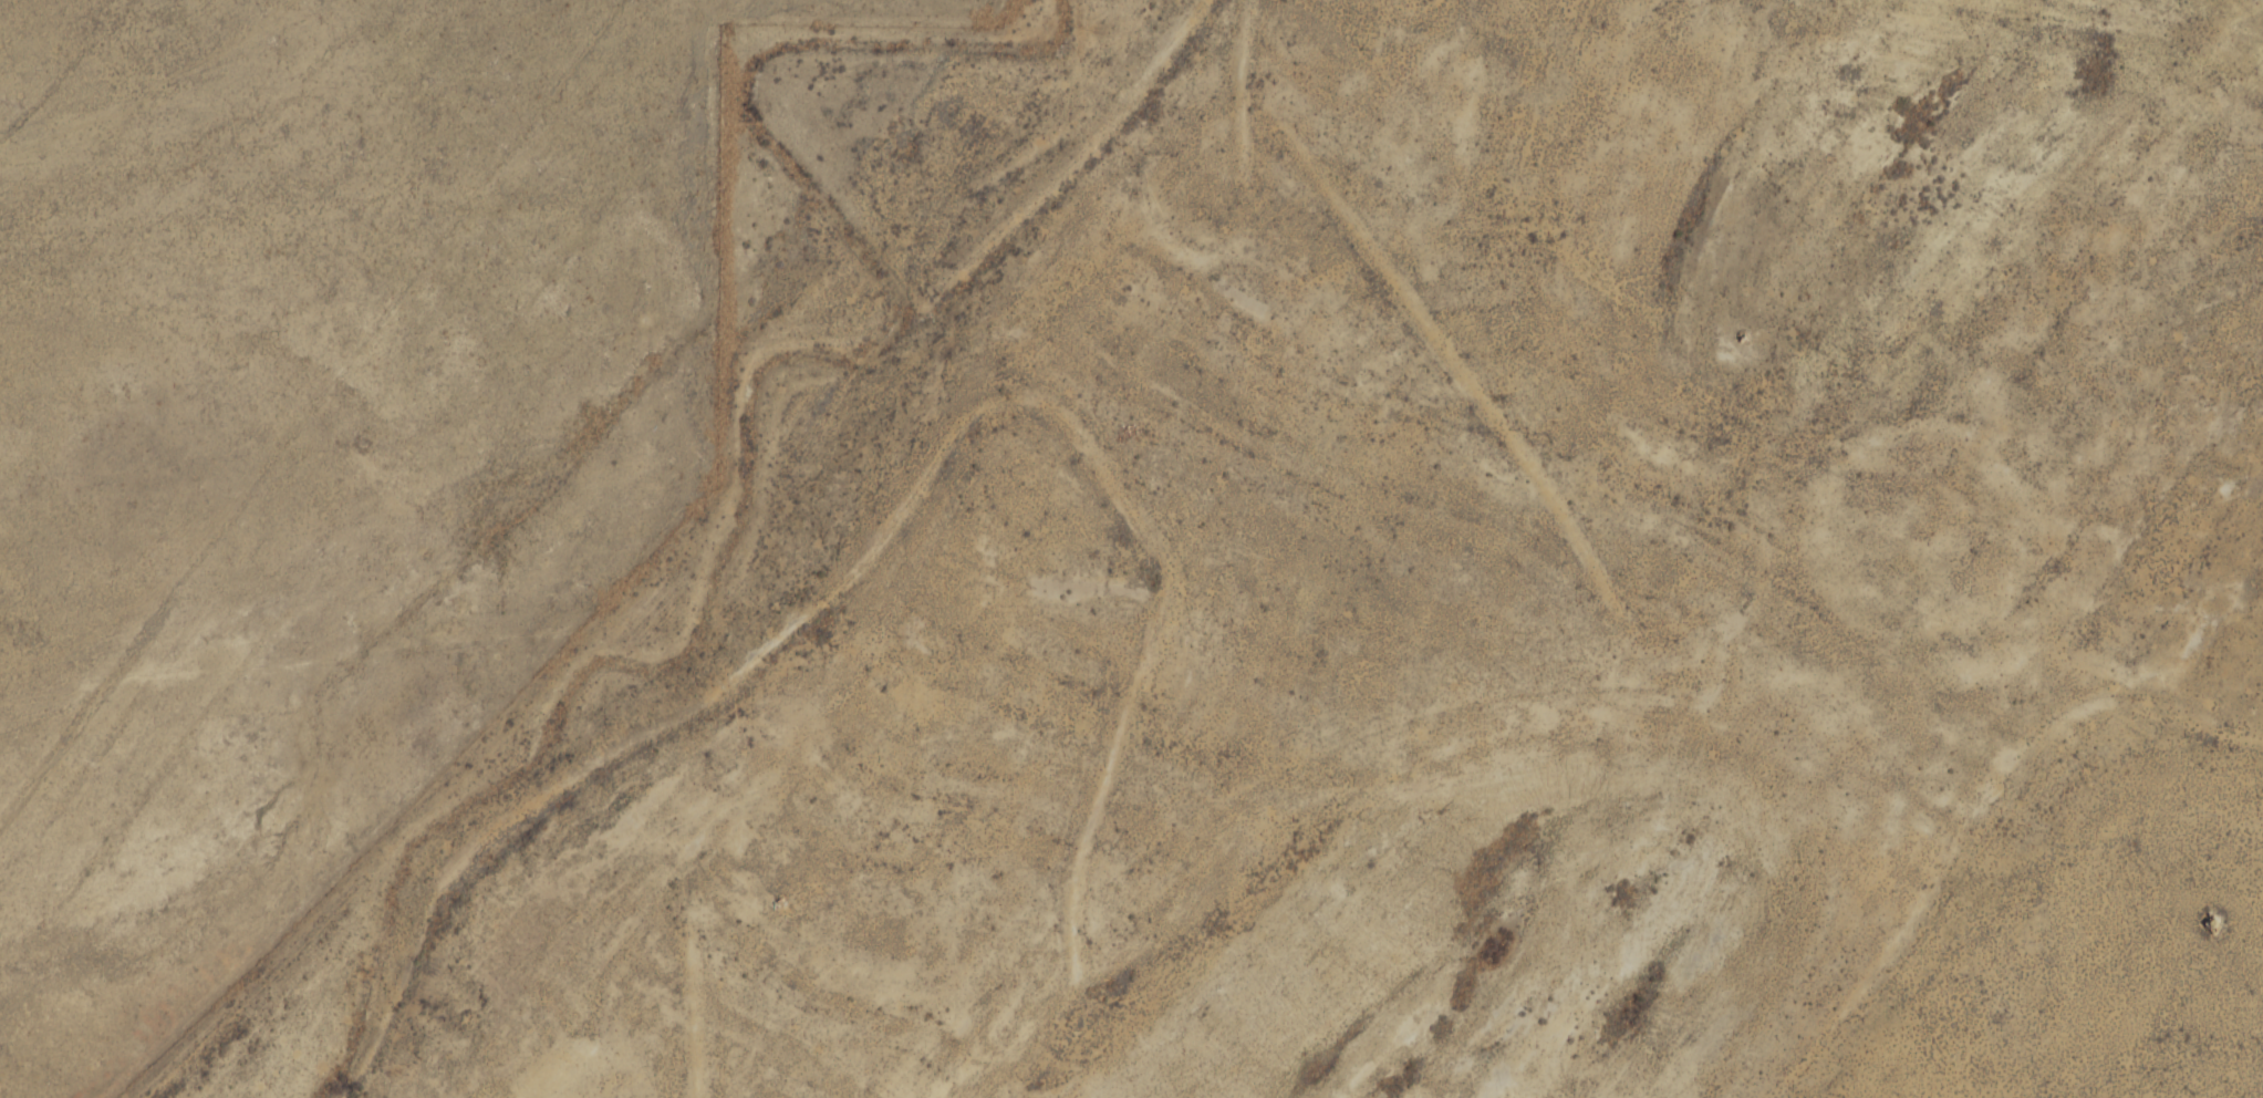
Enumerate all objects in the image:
quarry: (1478, 622)

